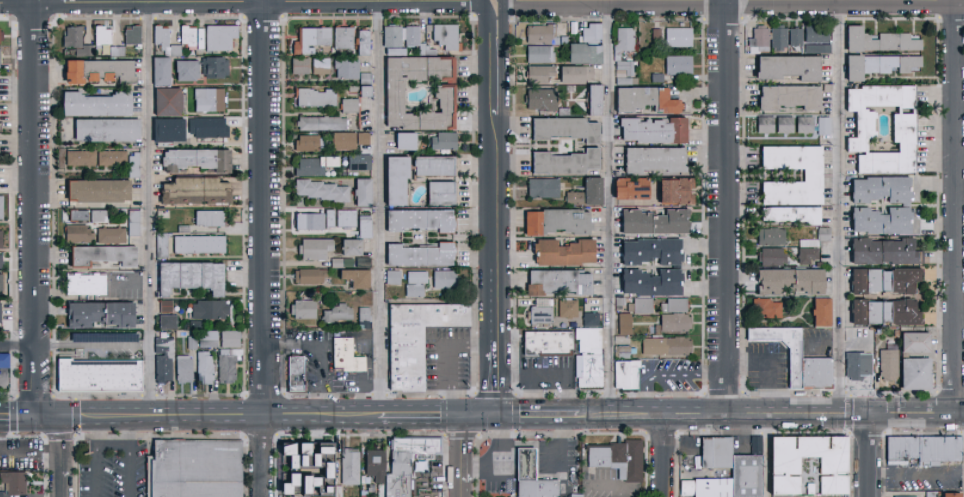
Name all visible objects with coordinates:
road: (496, 1)
road: (669, 1)
road: (248, 3)
building: (596, 33)
building: (131, 34)
building: (185, 34)
building: (544, 34)
building: (658, 34)
building: (819, 34)
building: (70, 35)
building: (100, 35)
building: (217, 36)
building: (395, 36)
building: (414, 36)
building: (198, 37)
building: (345, 37)
building: (449, 37)
building: (681, 37)
building: (781, 37)
building: (798, 37)
building: (163, 39)
building: (313, 39)
building: (761, 40)
building: (881, 41)
building: (364, 42)
building: (626, 42)
building: (820, 49)
building: (428, 50)
building: (398, 51)
building: (587, 53)
building: (542, 54)
road: (496, 58)
building: (681, 65)
building: (881, 65)
building: (212, 66)
building: (302, 66)
building: (323, 66)
building: (792, 66)
building: (629, 67)
building: (183, 69)
building: (349, 69)
building: (94, 70)
building: (157, 70)
building: (541, 74)
building: (578, 74)
building: (659, 78)
building: (628, 81)
building: (365, 86)
building: (830, 88)
building: (447, 94)
building: (317, 97)
building: (792, 97)
building: (206, 98)
building: (590, 98)
building: (597, 99)
building: (164, 100)
building: (544, 100)
building: (648, 100)
building: (92, 103)
building: (351, 106)
building: (323, 124)
building: (768, 125)
building: (788, 125)
building: (807, 125)
building: (906, 125)
building: (205, 126)
building: (826, 127)
building: (165, 128)
building: (102, 129)
building: (567, 129)
building: (657, 130)
building: (365, 138)
building: (346, 141)
building: (408, 141)
building: (446, 141)
building: (310, 144)
building: (78, 157)
building: (109, 157)
building: (194, 158)
building: (658, 159)
building: (361, 162)
building: (568, 162)
building: (131, 164)
building: (317, 166)
building: (437, 166)
building: (815, 175)
building: (399, 179)
building: (546, 188)
building: (634, 188)
building: (94, 189)
building: (191, 190)
building: (324, 191)
building: (596, 191)
building: (679, 191)
building: (365, 192)
building: (443, 193)
building: (576, 198)
road: (609, 202)
road: (725, 202)
road: (842, 202)
road: (266, 203)
road: (149, 204)
building: (908, 205)
road: (956, 206)
road: (34, 207)
road: (378, 207)
building: (0, 213)
building: (794, 214)
building: (96, 215)
building: (206, 217)
building: (332, 219)
building: (348, 219)
building: (424, 220)
building: (311, 221)
building: (131, 222)
building: (560, 222)
building: (658, 222)
building: (360, 225)
building: (366, 227)
road: (496, 229)
building: (74, 232)
building: (109, 235)
building: (826, 235)
building: (773, 237)
building: (197, 243)
building: (816, 243)
building: (354, 248)
building: (317, 249)
building: (888, 252)
building: (566, 253)
building: (100, 254)
building: (424, 255)
building: (810, 256)
building: (774, 258)
building: (343, 263)
building: (365, 263)
building: (678, 267)
building: (187, 276)
building: (312, 276)
building: (359, 278)
building: (395, 278)
building: (447, 280)
building: (792, 281)
building: (886, 281)
building: (561, 282)
building: (81, 284)
building: (418, 284)
building: (622, 302)
building: (164, 305)
building: (643, 306)
building: (677, 306)
building: (768, 308)
building: (208, 309)
building: (570, 309)
building: (306, 310)
building: (887, 312)
building: (95, 313)
building: (543, 313)
building: (824, 313)
building: (340, 314)
building: (366, 319)
building: (593, 319)
building: (166, 321)
building: (627, 324)
building: (675, 324)
building: (98, 336)
building: (206, 338)
building: (228, 338)
building: (418, 340)
building: (190, 343)
building: (918, 343)
building: (550, 344)
road: (290, 345)
road: (17, 347)
building: (669, 347)
building: (625, 352)
building: (348, 356)
road: (446, 356)
building: (592, 357)
building: (162, 359)
building: (799, 359)
building: (4, 360)
road: (764, 363)
building: (891, 363)
building: (226, 365)
building: (203, 366)
building: (860, 366)
building: (182, 368)
building: (96, 374)
building: (297, 374)
building: (918, 374)
building: (628, 375)
road: (674, 376)
road: (496, 379)
road: (320, 380)
road: (1, 381)
road: (667, 404)
road: (797, 404)
road: (183, 407)
road: (595, 410)
road: (960, 410)
road: (912, 413)
road: (306, 414)
road: (350, 414)
road: (17, 415)
traffic signals: (34, 415)
road: (45, 415)
road: (421, 415)
traffic signals: (465, 415)
road: (480, 415)
traffic signals: (496, 415)
road: (538, 415)
road: (960, 415)
road: (67, 416)
road: (88, 419)
road: (195, 423)
road: (724, 424)
road: (98, 433)
road: (131, 434)
road: (57, 435)
road: (114, 444)
building: (750, 444)
road: (491, 449)
building: (925, 450)
road: (28, 453)
road: (869, 455)
road: (465, 456)
road: (544, 457)
road: (260, 459)
building: (620, 459)
road: (766, 460)
road: (665, 461)
building: (406, 464)
building: (376, 465)
building: (350, 466)
building: (306, 467)
building: (197, 469)
road: (97, 470)
building: (523, 470)
road: (130, 471)
building: (712, 471)
road: (916, 472)
road: (58, 475)
building: (747, 475)
building: (804, 476)
parking lot: (924, 478)
building: (785, 480)
building: (11, 482)
road: (626, 490)
building: (951, 495)
building: (902, 496)

